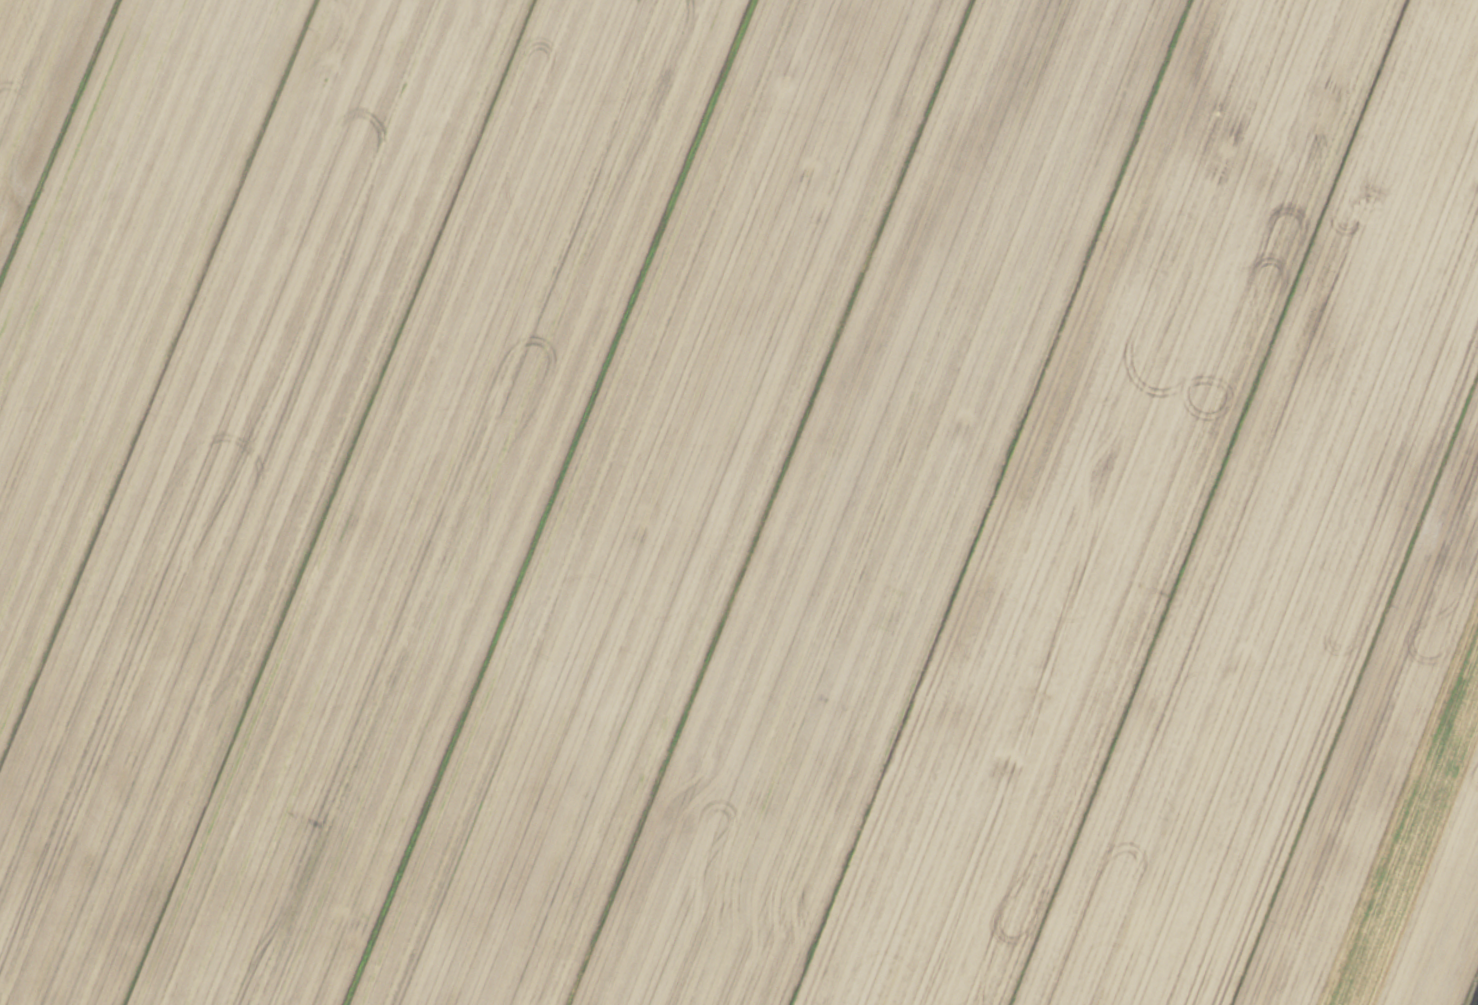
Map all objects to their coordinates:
crop: (739, 502)

